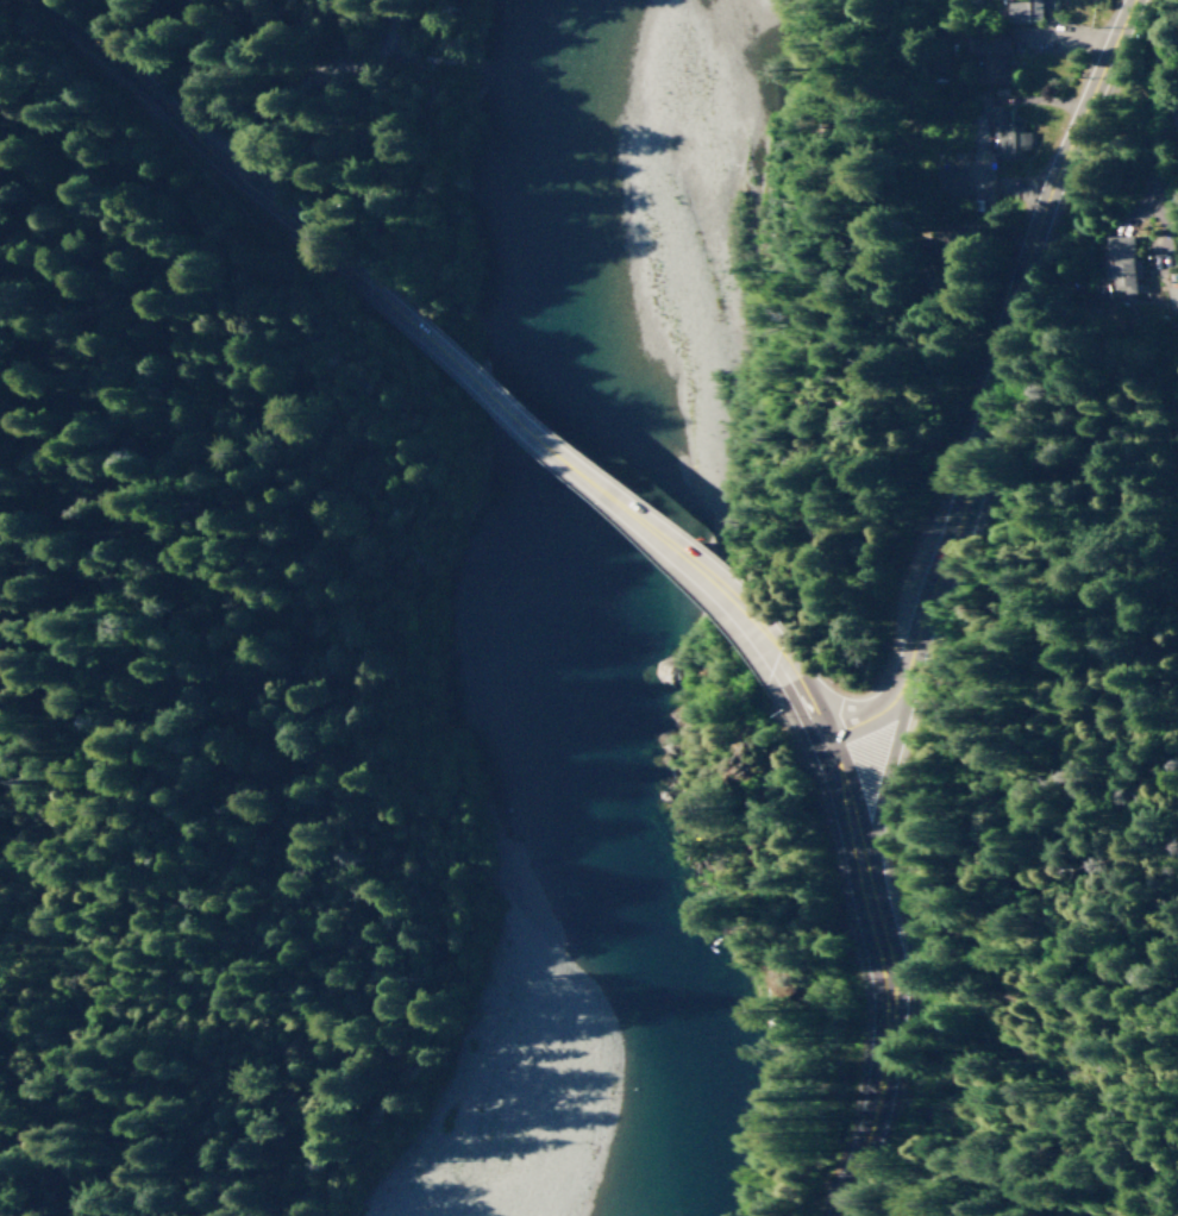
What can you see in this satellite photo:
building: (989, 58)
road: (355, 121)
building: (1005, 133)
road: (198, 152)
river: (609, 165)
building: (1121, 264)
building: (1170, 296)
road: (326, 316)
road: (182, 353)
road: (972, 377)
road: (587, 479)
road: (801, 703)
river: (615, 778)
road: (430, 924)
road: (870, 978)
road: (1094, 996)
road: (1000, 1022)
road: (1091, 1130)
road: (1159, 1143)

